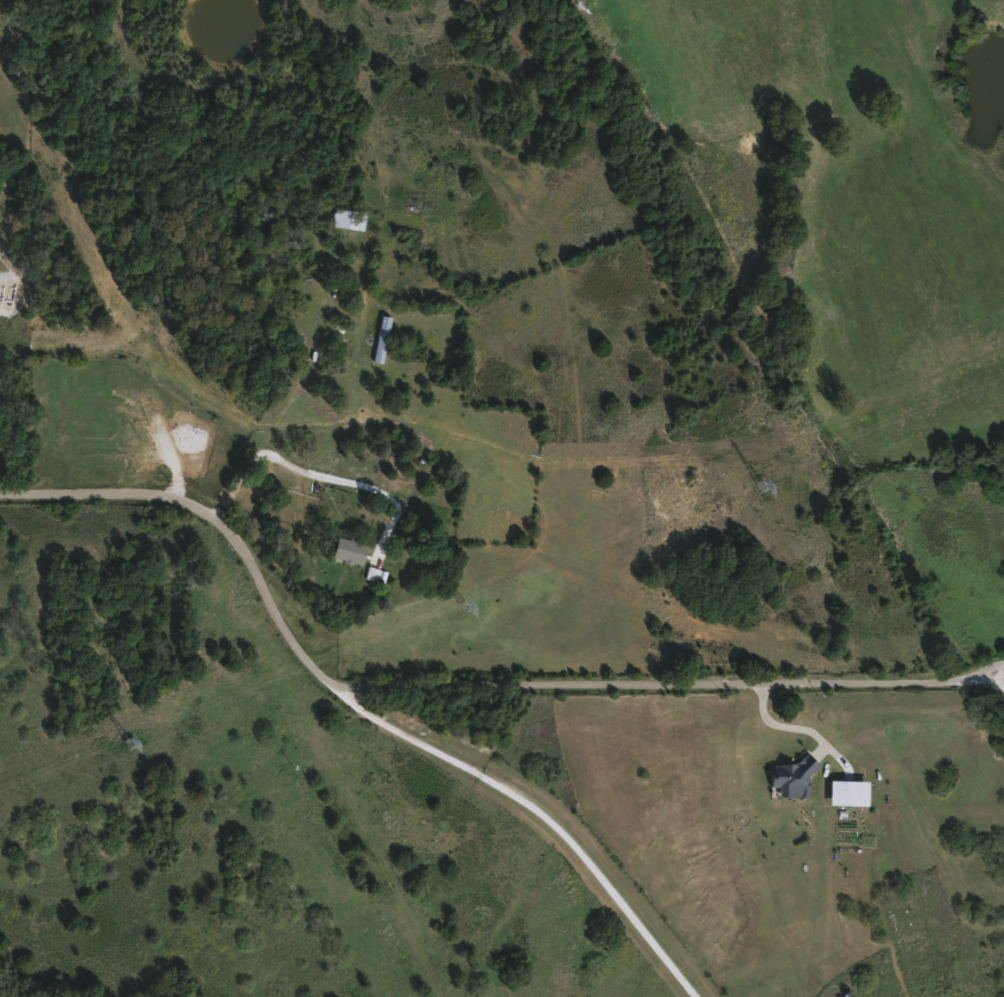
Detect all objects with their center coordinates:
building: (352, 218)
building: (383, 339)
road: (256, 452)
power tower: (761, 485)
building: (352, 548)
power tower: (465, 605)
road: (987, 671)
road: (987, 681)
road: (466, 684)
road: (785, 725)
power tower: (131, 742)
building: (853, 791)
road: (544, 811)

